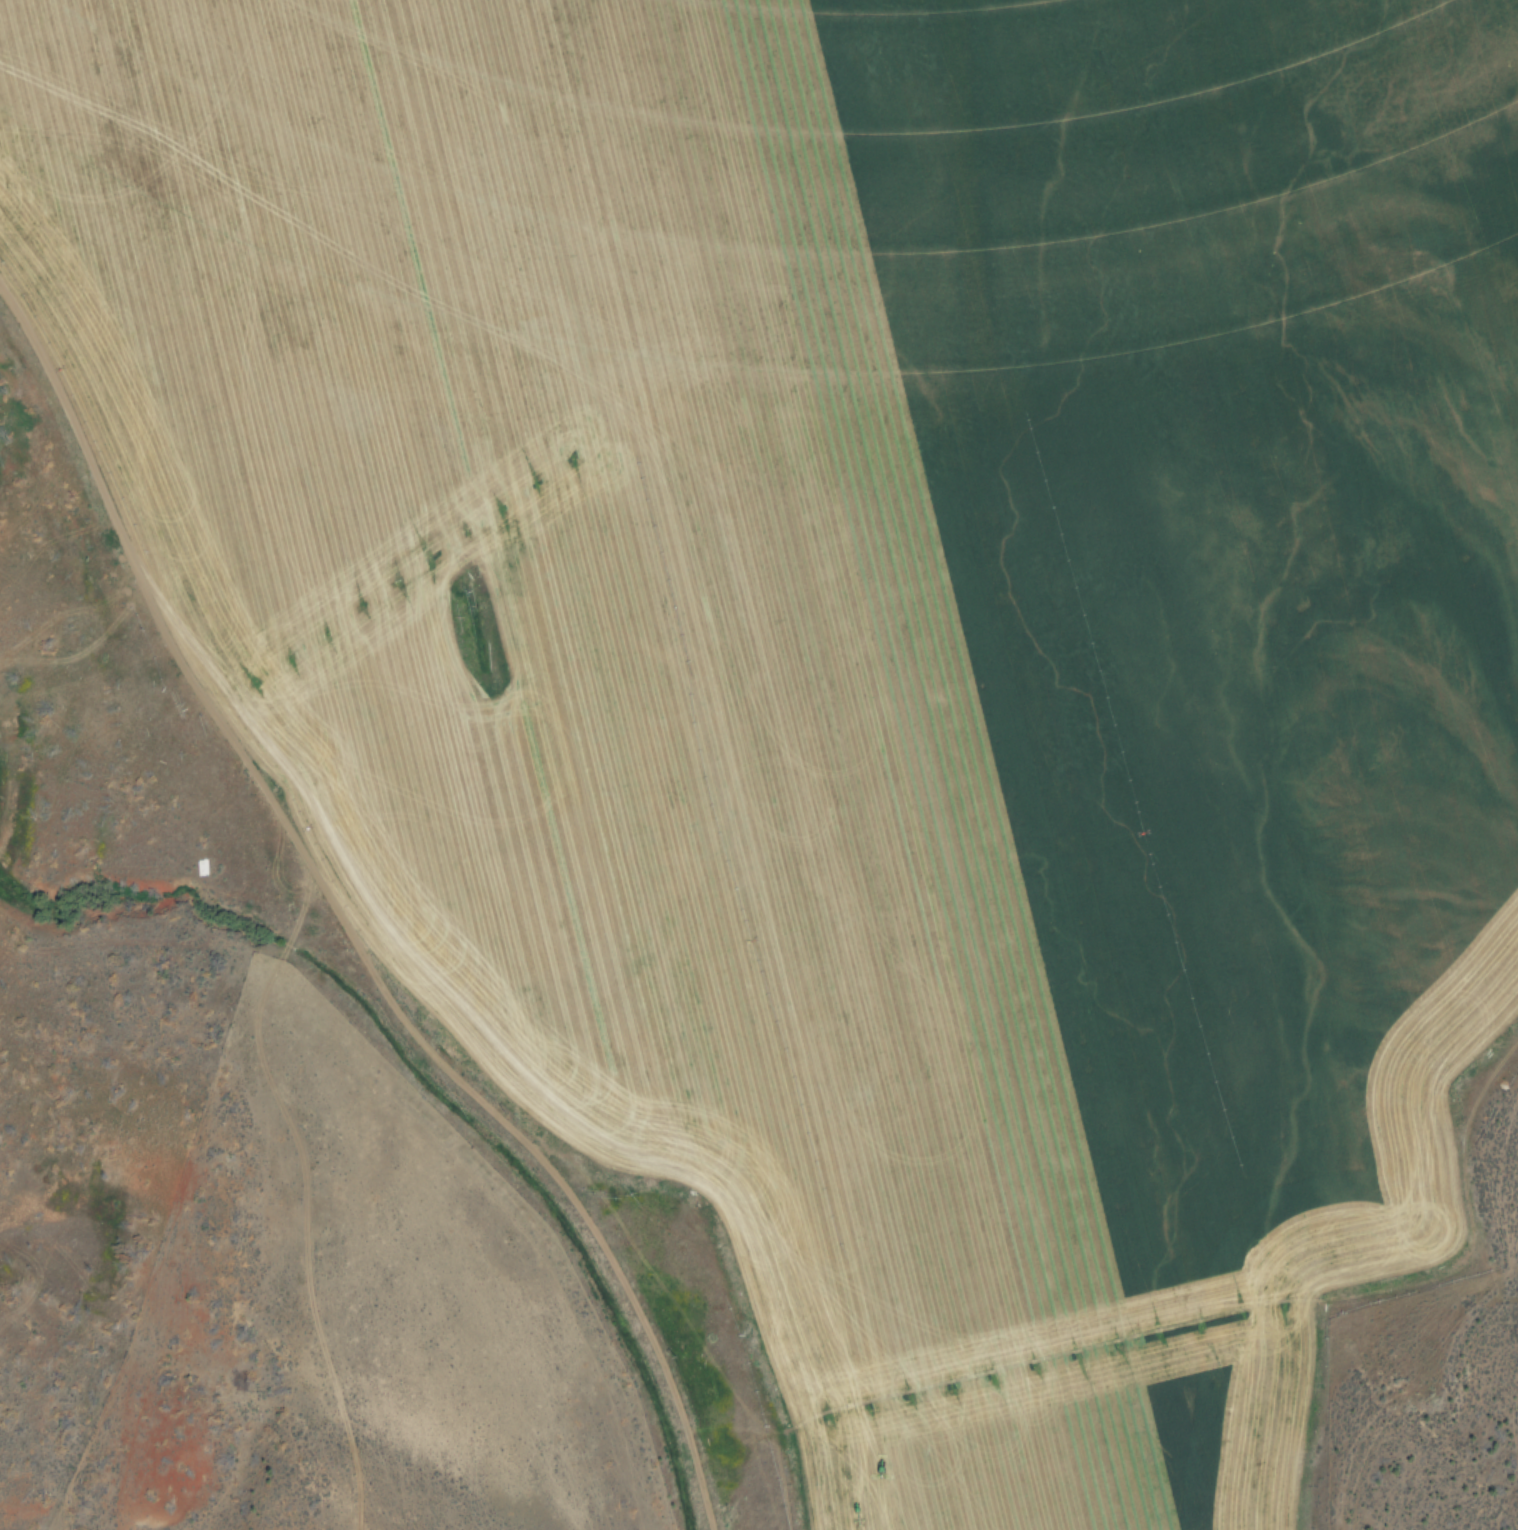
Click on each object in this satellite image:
crop: (861, 651)
road: (375, 892)

